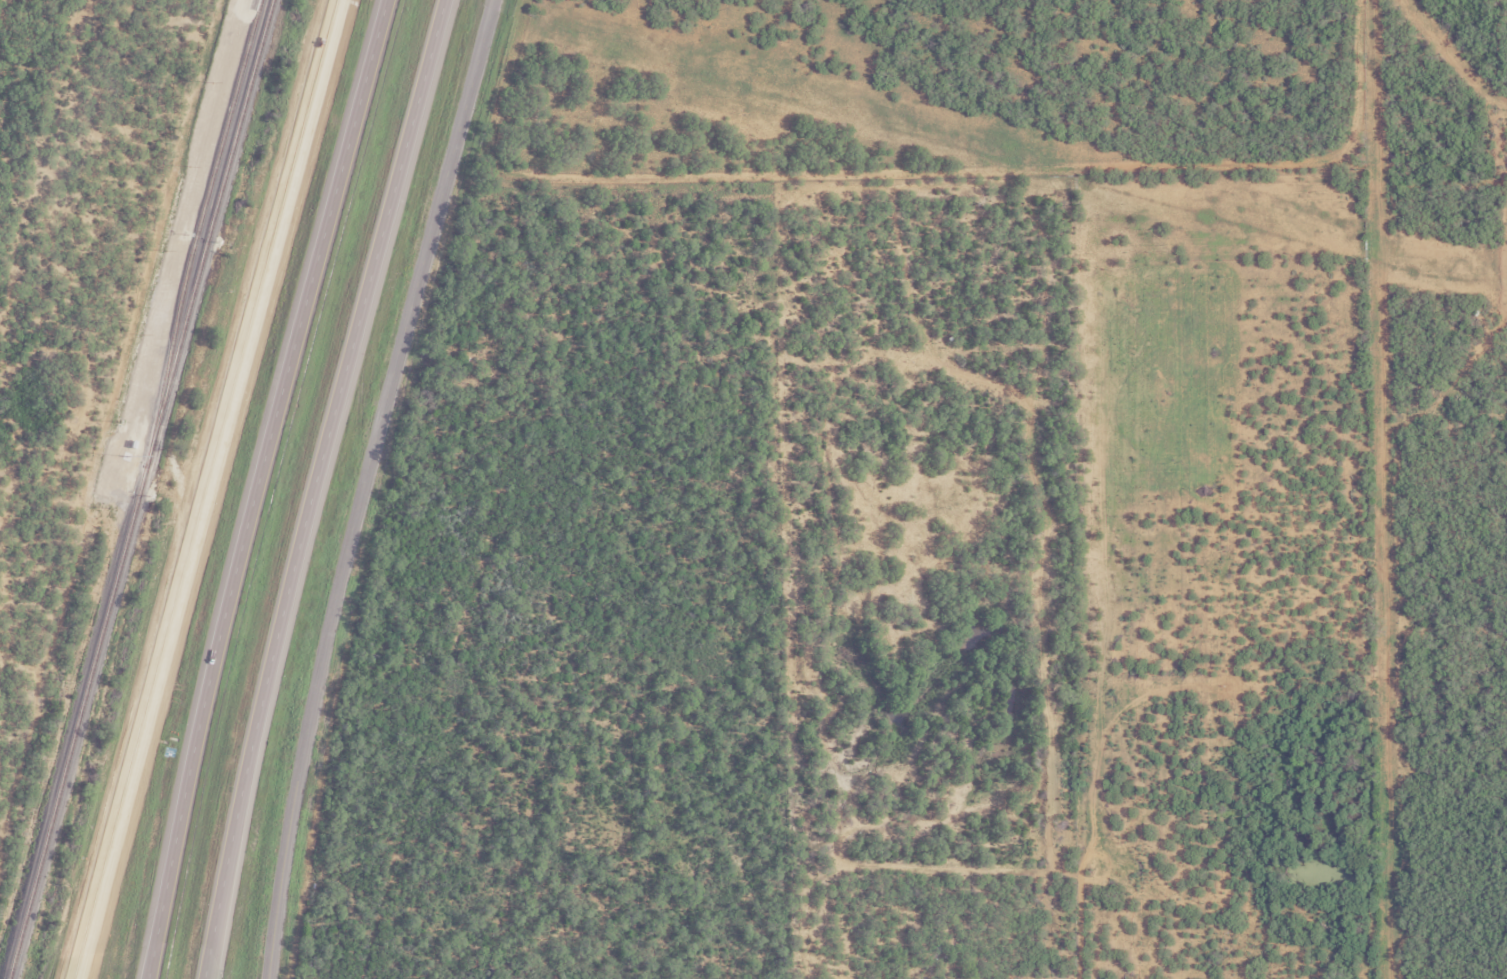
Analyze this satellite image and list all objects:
road: (363, 485)
road: (255, 486)
road: (313, 487)
railway: (137, 489)
road: (205, 489)
road: (234, 851)

